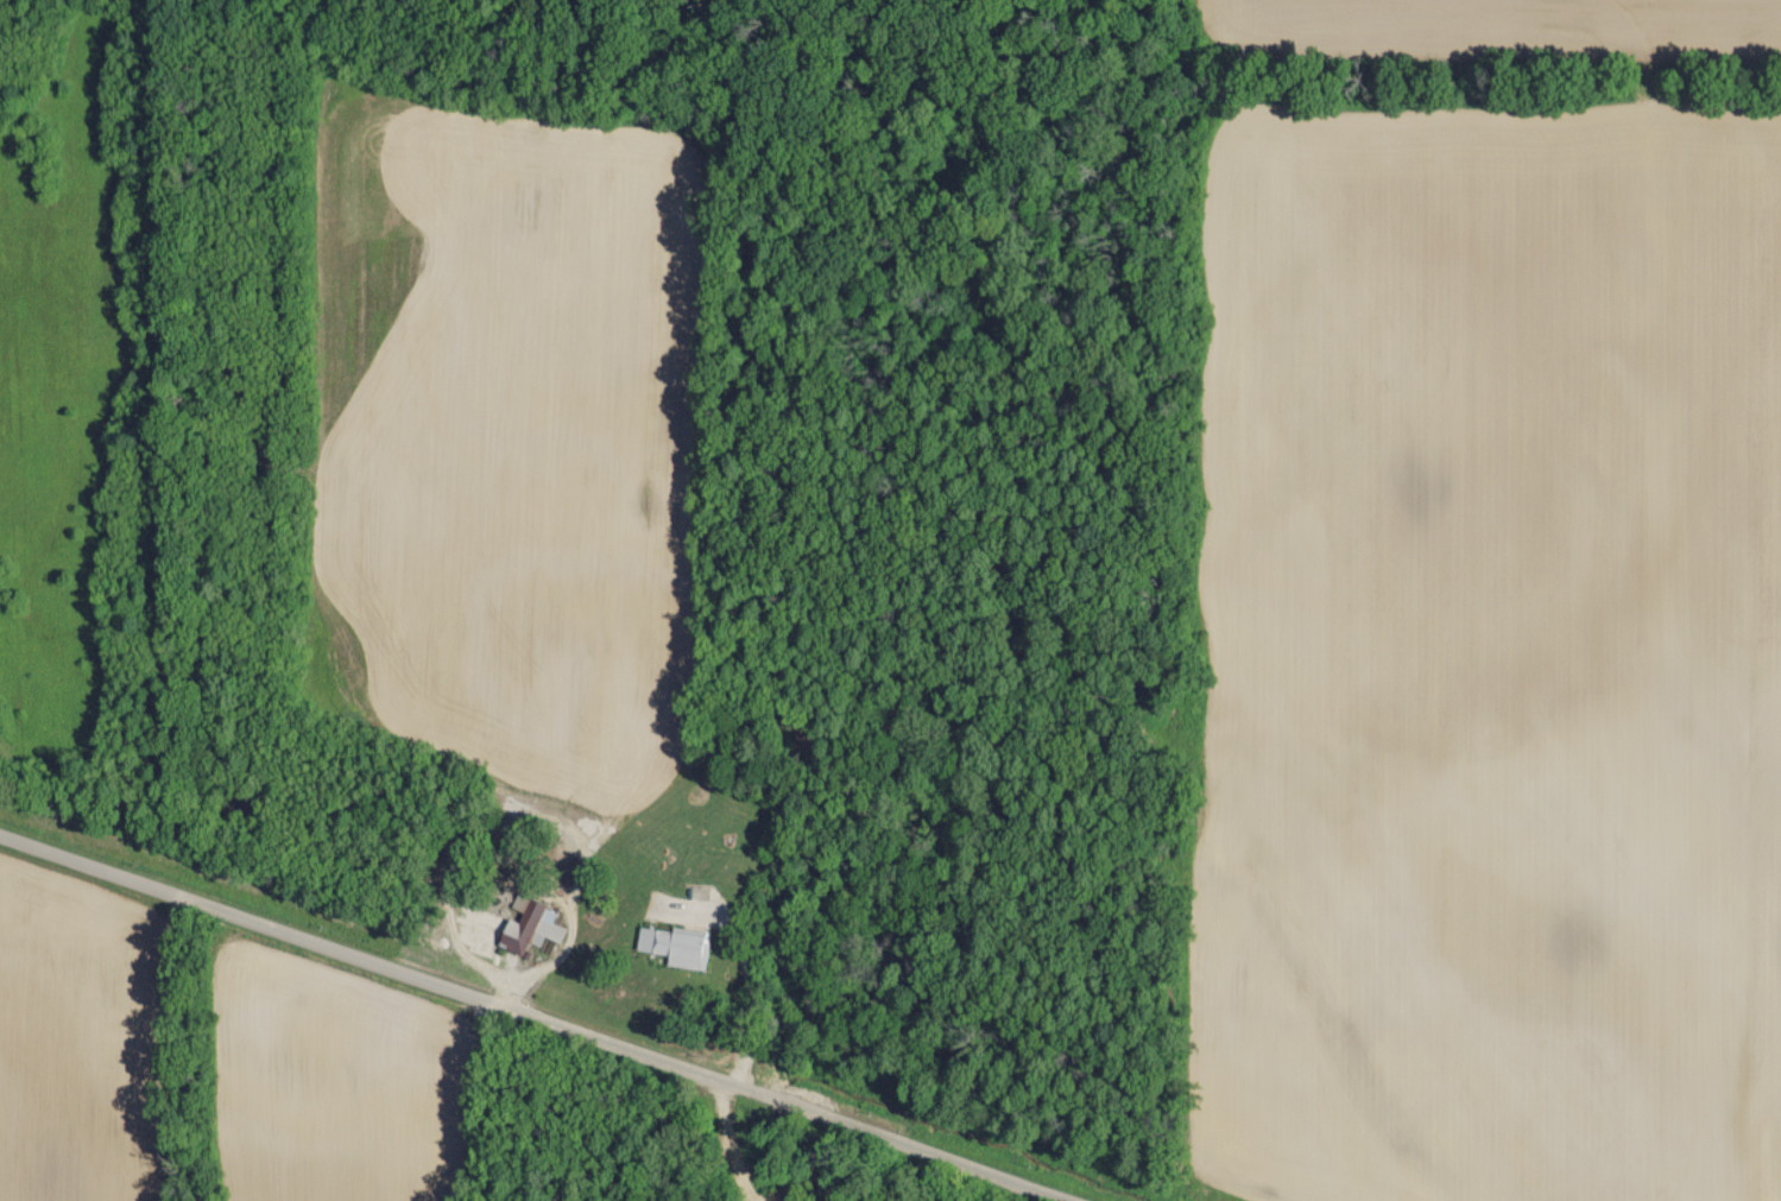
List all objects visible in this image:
building: (530, 929)
building: (675, 944)
road: (538, 1017)
river: (850, 1195)

